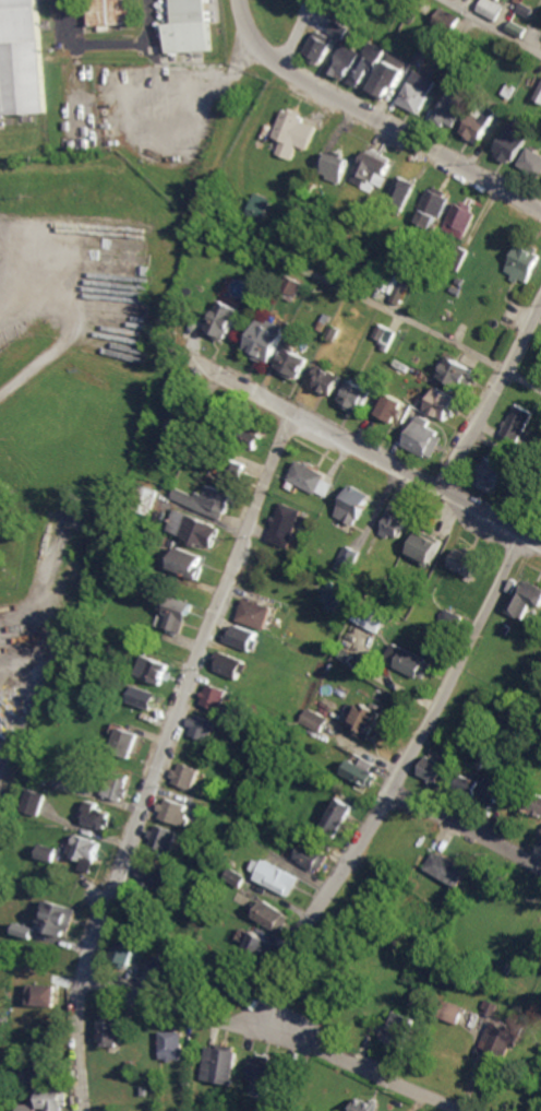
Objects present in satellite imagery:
building: (497, 0)
building: (491, 9)
building: (111, 11)
building: (446, 20)
building: (190, 26)
road: (491, 26)
building: (338, 28)
building: (518, 28)
road: (296, 34)
road: (252, 38)
road: (110, 43)
building: (316, 47)
building: (22, 57)
building: (342, 61)
building: (365, 62)
building: (386, 75)
road: (197, 85)
building: (416, 91)
building: (539, 95)
building: (448, 109)
building: (477, 125)
building: (292, 131)
road: (411, 138)
building: (513, 142)
building: (532, 161)
building: (336, 166)
building: (374, 169)
building: (404, 189)
building: (260, 206)
building: (432, 208)
building: (460, 218)
road: (15, 250)
building: (525, 262)
building: (294, 285)
road: (20, 292)
building: (224, 320)
road: (412, 320)
road: (71, 334)
building: (265, 342)
building: (292, 363)
building: (458, 371)
road: (522, 378)
building: (326, 380)
building: (354, 395)
road: (490, 397)
building: (442, 403)
building: (392, 407)
building: (179, 414)
building: (517, 423)
building: (249, 437)
building: (424, 437)
road: (377, 458)
building: (233, 470)
building: (491, 474)
building: (311, 477)
building: (517, 492)
building: (207, 500)
building: (354, 505)
building: (396, 523)
building: (286, 524)
building: (194, 528)
building: (423, 548)
building: (348, 559)
building: (465, 562)
building: (188, 563)
building: (332, 594)
building: (525, 598)
road: (43, 601)
building: (176, 613)
building: (254, 613)
building: (450, 616)
building: (370, 617)
building: (243, 637)
building: (409, 661)
building: (231, 664)
building: (154, 669)
building: (216, 696)
building: (145, 697)
building: (314, 720)
building: (366, 720)
building: (204, 728)
building: (127, 742)
road: (164, 758)
building: (438, 770)
building: (362, 773)
building: (187, 775)
building: (118, 784)
road: (398, 787)
building: (482, 788)
building: (35, 802)
building: (536, 804)
building: (177, 811)
building: (341, 814)
building: (97, 815)
road: (468, 830)
building: (167, 838)
building: (87, 851)
building: (48, 852)
building: (313, 855)
building: (447, 868)
building: (153, 876)
building: (278, 876)
building: (238, 877)
building: (275, 914)
building: (58, 917)
building: (24, 930)
building: (263, 945)
building: (124, 952)
building: (164, 969)
building: (233, 982)
building: (41, 994)
building: (453, 1012)
building: (402, 1029)
building: (112, 1030)
road: (276, 1036)
building: (500, 1040)
building: (175, 1045)
building: (221, 1063)
building: (36, 1072)
building: (265, 1074)
building: (53, 1099)
building: (365, 1104)
building: (29, 1107)

